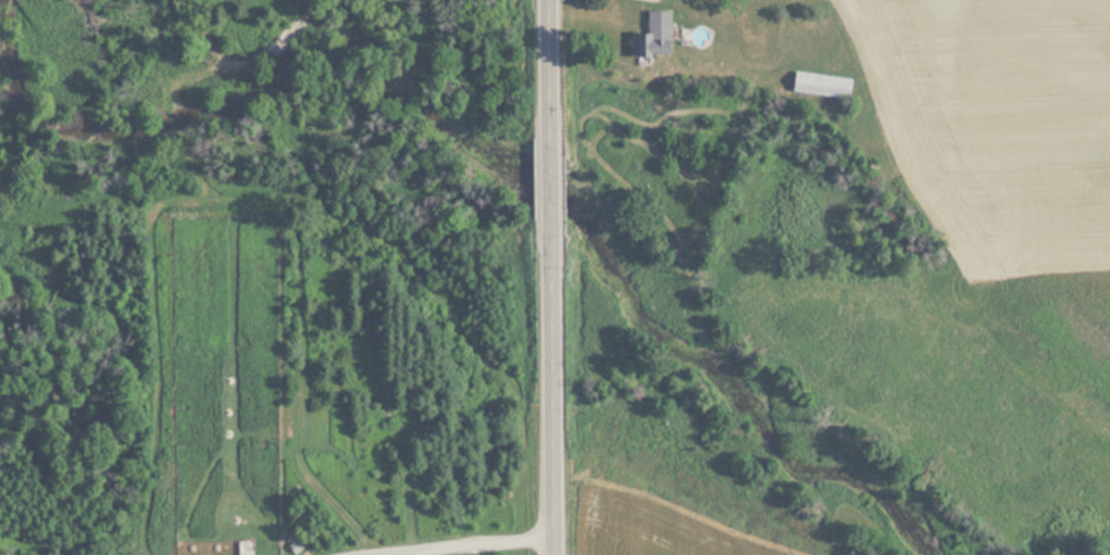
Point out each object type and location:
building: (294, 33)
building: (650, 37)
building: (818, 86)
river: (510, 167)
road: (556, 277)
building: (242, 547)

